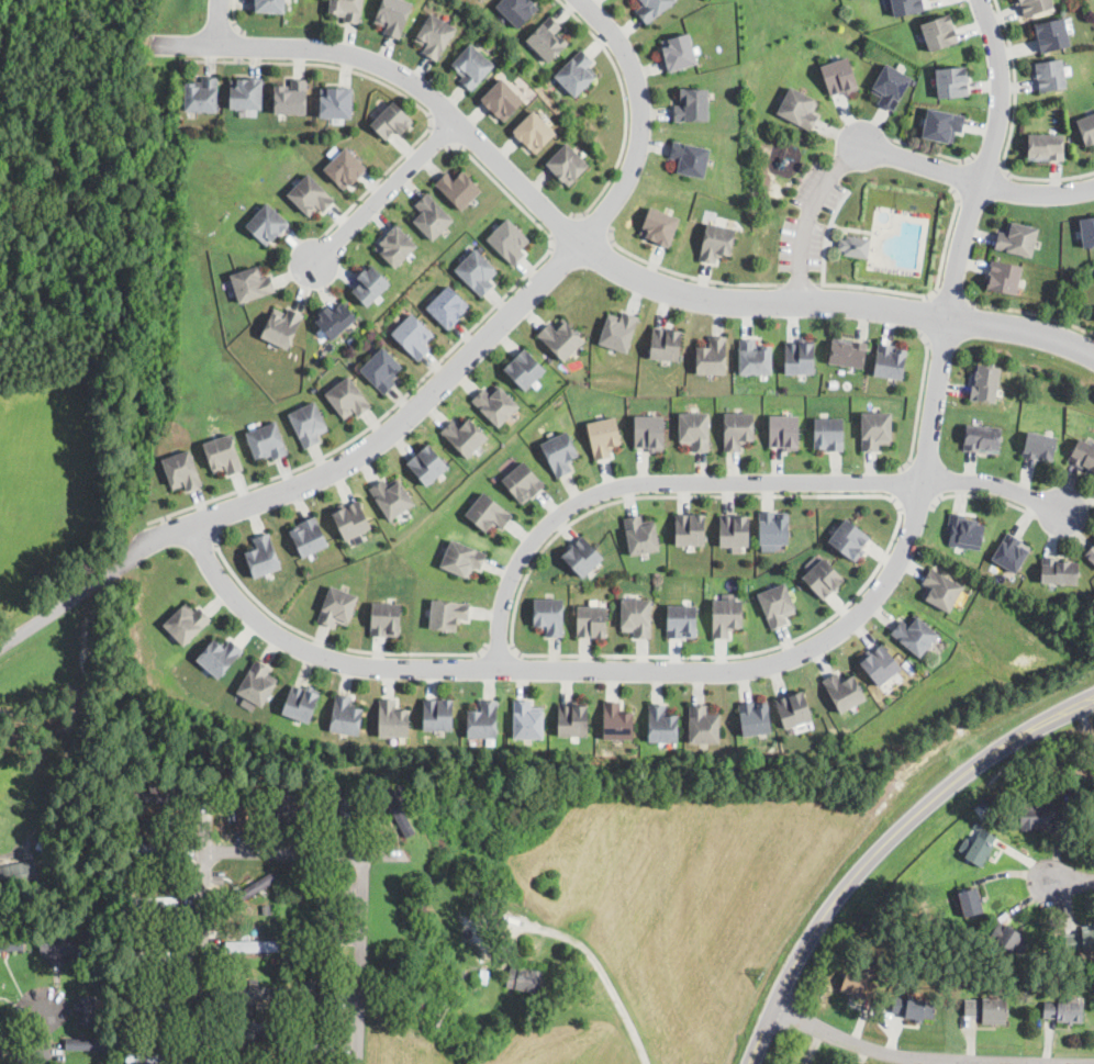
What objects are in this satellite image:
building: (270, 4)
building: (905, 5)
building: (1035, 5)
building: (652, 8)
building: (347, 9)
building: (518, 10)
building: (393, 15)
road: (233, 18)
road: (217, 21)
building: (939, 31)
building: (435, 34)
building: (1051, 34)
building: (548, 38)
road: (238, 44)
building: (680, 51)
road: (316, 61)
building: (472, 65)
building: (577, 72)
building: (1050, 74)
building: (841, 76)
building: (952, 81)
building: (891, 86)
building: (246, 92)
building: (202, 94)
building: (291, 96)
building: (503, 99)
building: (336, 100)
road: (624, 103)
building: (693, 104)
building: (799, 108)
building: (392, 120)
building: (942, 123)
building: (1085, 127)
road: (1011, 130)
building: (535, 131)
road: (443, 134)
building: (1046, 147)
road: (933, 150)
building: (690, 157)
road: (986, 161)
building: (568, 164)
building: (345, 168)
road: (963, 173)
road: (377, 180)
road: (976, 180)
building: (459, 187)
road: (384, 190)
building: (311, 194)
road: (810, 214)
building: (431, 215)
building: (267, 223)
building: (660, 225)
road: (593, 226)
road: (565, 227)
building: (1087, 231)
road: (826, 234)
road: (947, 237)
building: (1017, 238)
building: (510, 240)
building: (717, 242)
building: (395, 245)
building: (856, 245)
road: (590, 248)
building: (478, 271)
road: (685, 275)
building: (1005, 277)
building: (253, 282)
building: (370, 283)
road: (800, 283)
road: (875, 288)
road: (952, 296)
building: (448, 306)
road: (1026, 311)
road: (925, 313)
building: (334, 318)
building: (283, 326)
building: (619, 331)
building: (414, 335)
building: (561, 337)
road: (480, 343)
building: (667, 343)
building: (847, 352)
building: (713, 355)
building: (755, 356)
building: (800, 356)
building: (891, 359)
building: (526, 367)
building: (382, 369)
road: (429, 370)
building: (984, 383)
building: (348, 397)
road: (919, 401)
building: (495, 403)
building: (309, 423)
building: (694, 429)
building: (738, 429)
building: (875, 429)
building: (784, 430)
building: (650, 432)
building: (829, 434)
building: (466, 435)
building: (605, 436)
building: (983, 439)
building: (267, 440)
building: (1040, 447)
building: (560, 451)
building: (224, 453)
building: (1083, 456)
building: (427, 463)
building: (182, 470)
building: (523, 481)
road: (724, 481)
road: (902, 482)
road: (980, 494)
building: (391, 496)
road: (916, 503)
building: (489, 512)
building: (351, 518)
road: (209, 519)
building: (691, 528)
building: (773, 528)
building: (736, 529)
building: (964, 533)
building: (641, 534)
building: (310, 536)
building: (850, 538)
building: (1011, 553)
building: (1091, 555)
building: (263, 556)
building: (583, 556)
building: (462, 557)
building: (1060, 572)
building: (824, 578)
building: (941, 589)
road: (64, 603)
building: (778, 604)
building: (337, 606)
building: (449, 613)
building: (550, 614)
building: (636, 616)
building: (727, 616)
building: (387, 618)
building: (682, 620)
building: (187, 621)
building: (592, 621)
building: (915, 634)
road: (327, 641)
road: (817, 642)
road: (513, 645)
road: (499, 648)
building: (220, 656)
building: (880, 663)
building: (258, 683)
building: (845, 691)
building: (301, 702)
building: (794, 708)
building: (438, 714)
building: (346, 715)
building: (756, 716)
building: (393, 718)
building: (483, 719)
building: (527, 719)
building: (573, 719)
building: (618, 720)
building: (662, 723)
building: (703, 724)
building: (825, 743)
building: (275, 773)
building: (252, 781)
building: (132, 784)
building: (161, 798)
building: (273, 803)
building: (241, 806)
building: (292, 807)
building: (345, 810)
building: (398, 810)
building: (1035, 817)
building: (1092, 824)
building: (978, 826)
road: (886, 847)
building: (980, 848)
building: (47, 849)
building: (156, 850)
building: (18, 874)
road: (366, 882)
road: (1073, 882)
building: (475, 886)
building: (139, 888)
building: (253, 888)
building: (319, 889)
building: (155, 901)
building: (300, 901)
building: (970, 904)
building: (420, 907)
building: (266, 909)
building: (275, 911)
building: (316, 937)
building: (1009, 939)
building: (1080, 943)
building: (58, 944)
building: (4, 947)
building: (252, 947)
building: (153, 954)
road: (206, 960)
building: (276, 962)
road: (600, 970)
building: (483, 975)
building: (525, 979)
building: (858, 988)
building: (248, 993)
building: (310, 994)
building: (154, 1006)
building: (914, 1008)
building: (87, 1010)
building: (987, 1010)
building: (1063, 1011)
road: (45, 1028)
building: (265, 1030)
building: (244, 1042)
building: (90, 1044)
building: (312, 1048)
building: (1, 1050)
building: (149, 1059)
road: (930, 1059)
building: (102, 1063)

